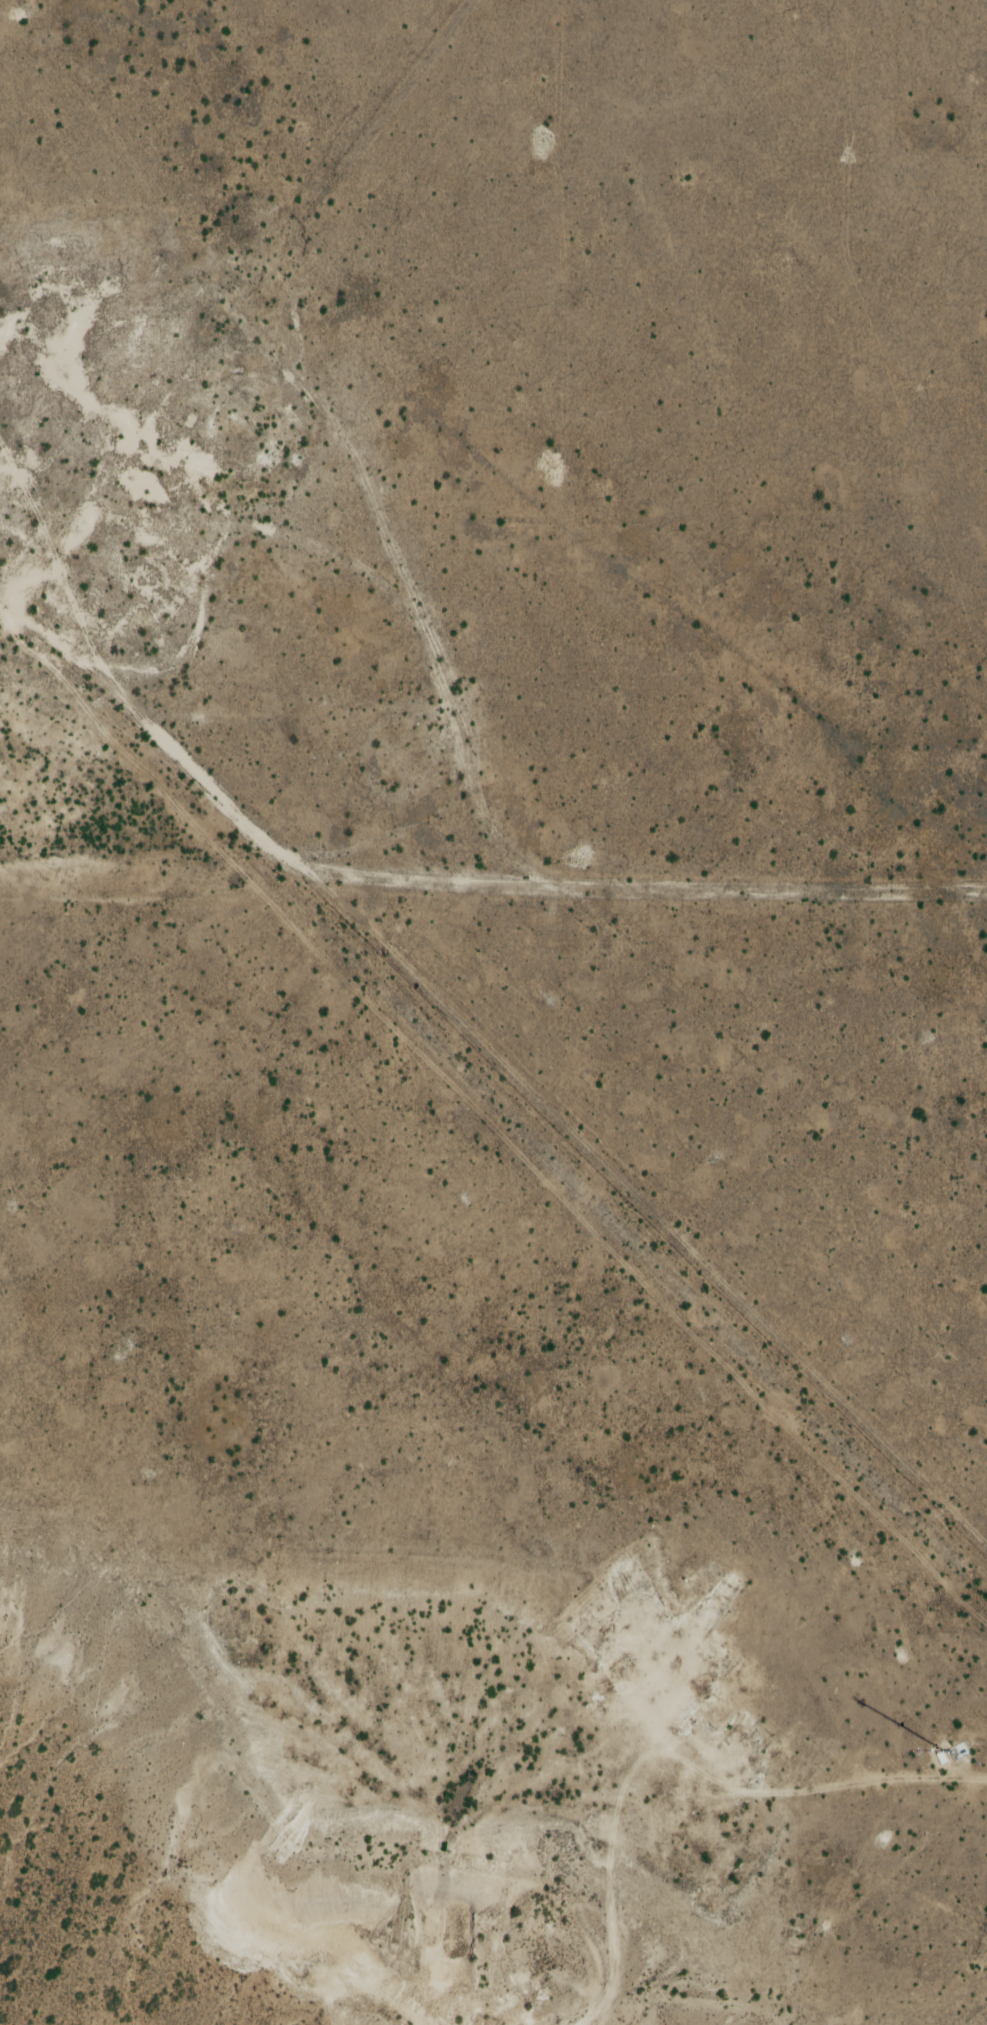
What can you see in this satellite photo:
road: (973, 1774)

